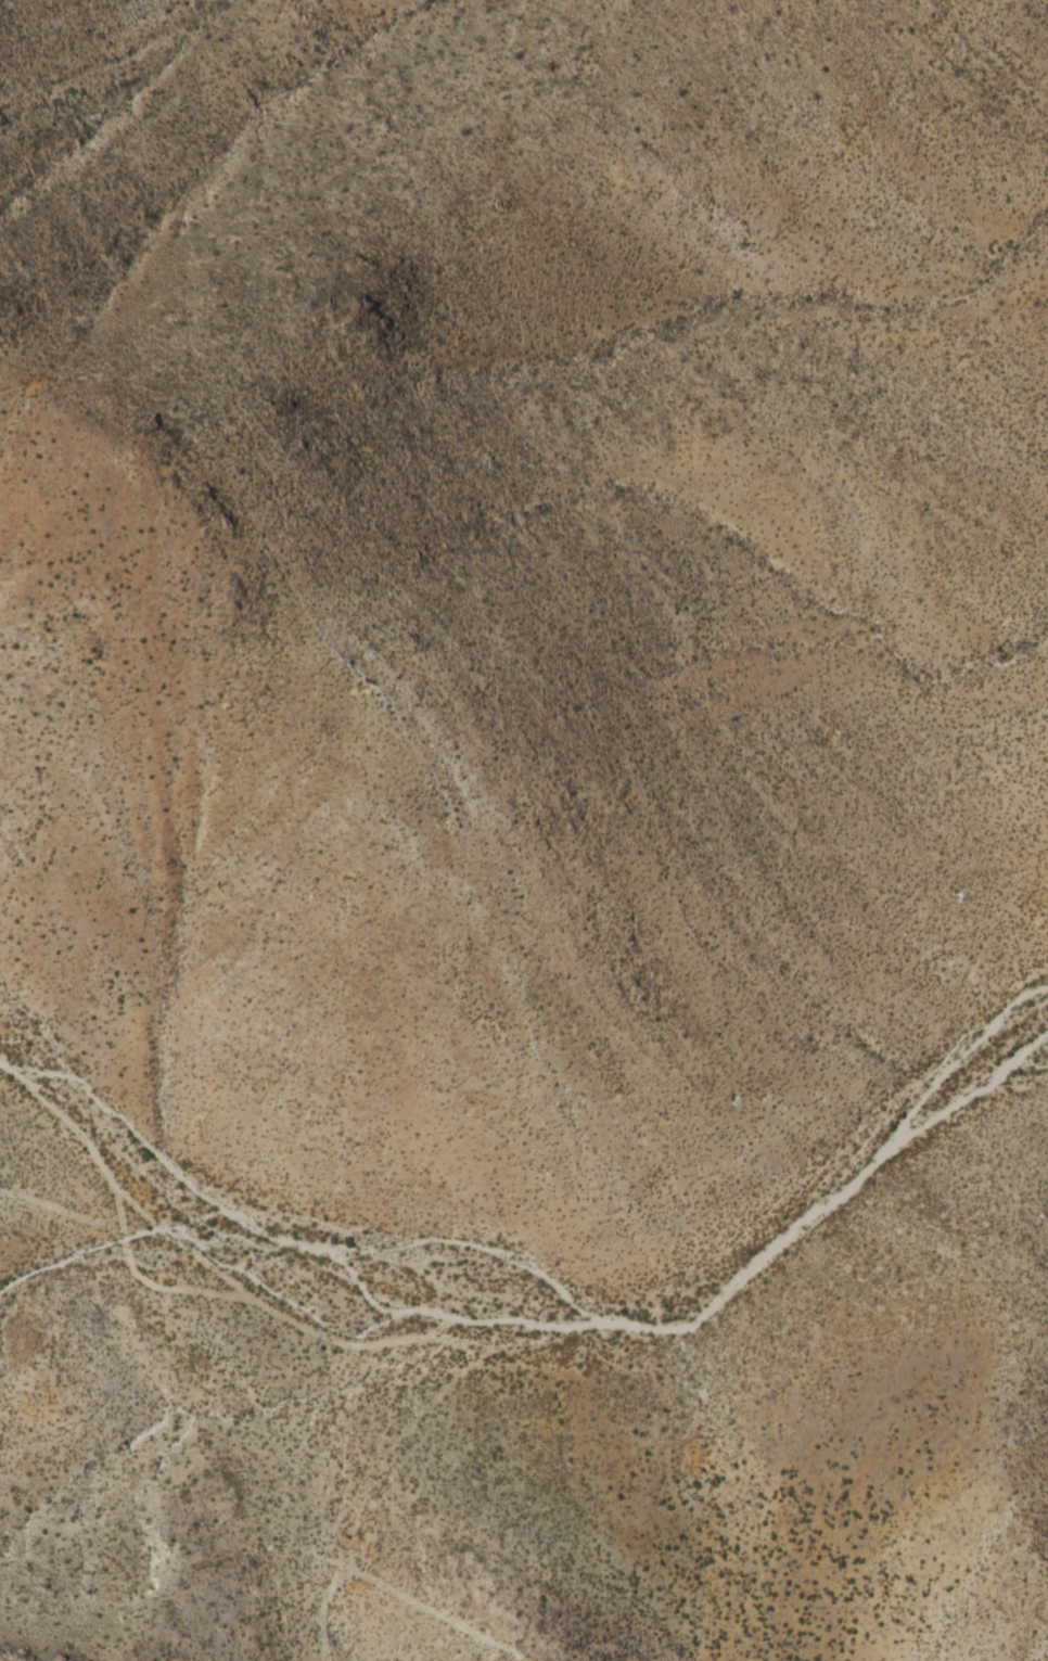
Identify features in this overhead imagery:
road: (63, 1210)
road: (503, 1319)
road: (389, 1588)

